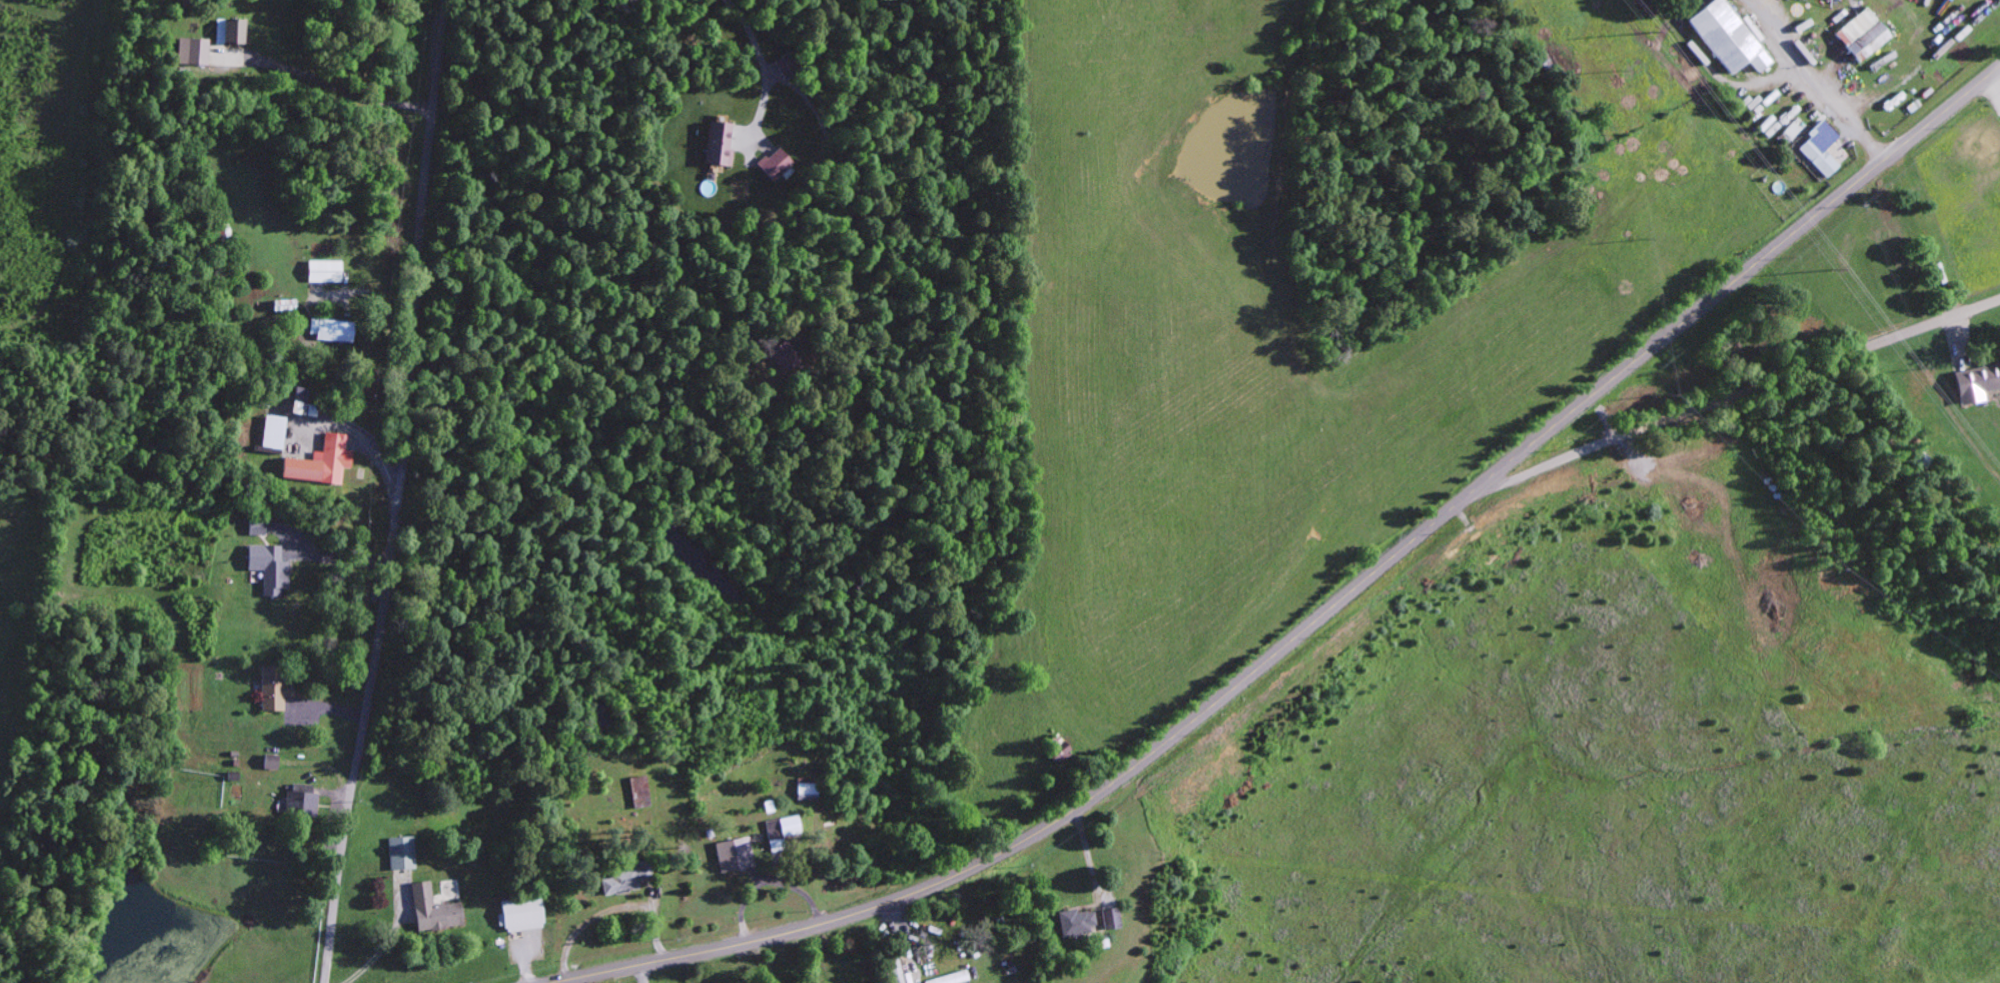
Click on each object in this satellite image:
building: (1749, 29)
building: (228, 31)
building: (1860, 35)
building: (1725, 37)
building: (194, 51)
building: (1780, 117)
building: (1794, 130)
building: (718, 144)
building: (1820, 148)
building: (773, 165)
road: (1968, 212)
building: (328, 330)
building: (1975, 383)
road: (1736, 396)
building: (273, 432)
building: (319, 463)
road: (400, 493)
building: (268, 568)
road: (1323, 614)
building: (279, 687)
building: (1059, 749)
building: (640, 791)
building: (301, 803)
building: (788, 825)
building: (401, 852)
building: (733, 854)
building: (624, 879)
building: (432, 909)
building: (520, 913)
building: (1112, 918)
building: (1076, 922)
building: (899, 973)
building: (951, 978)

